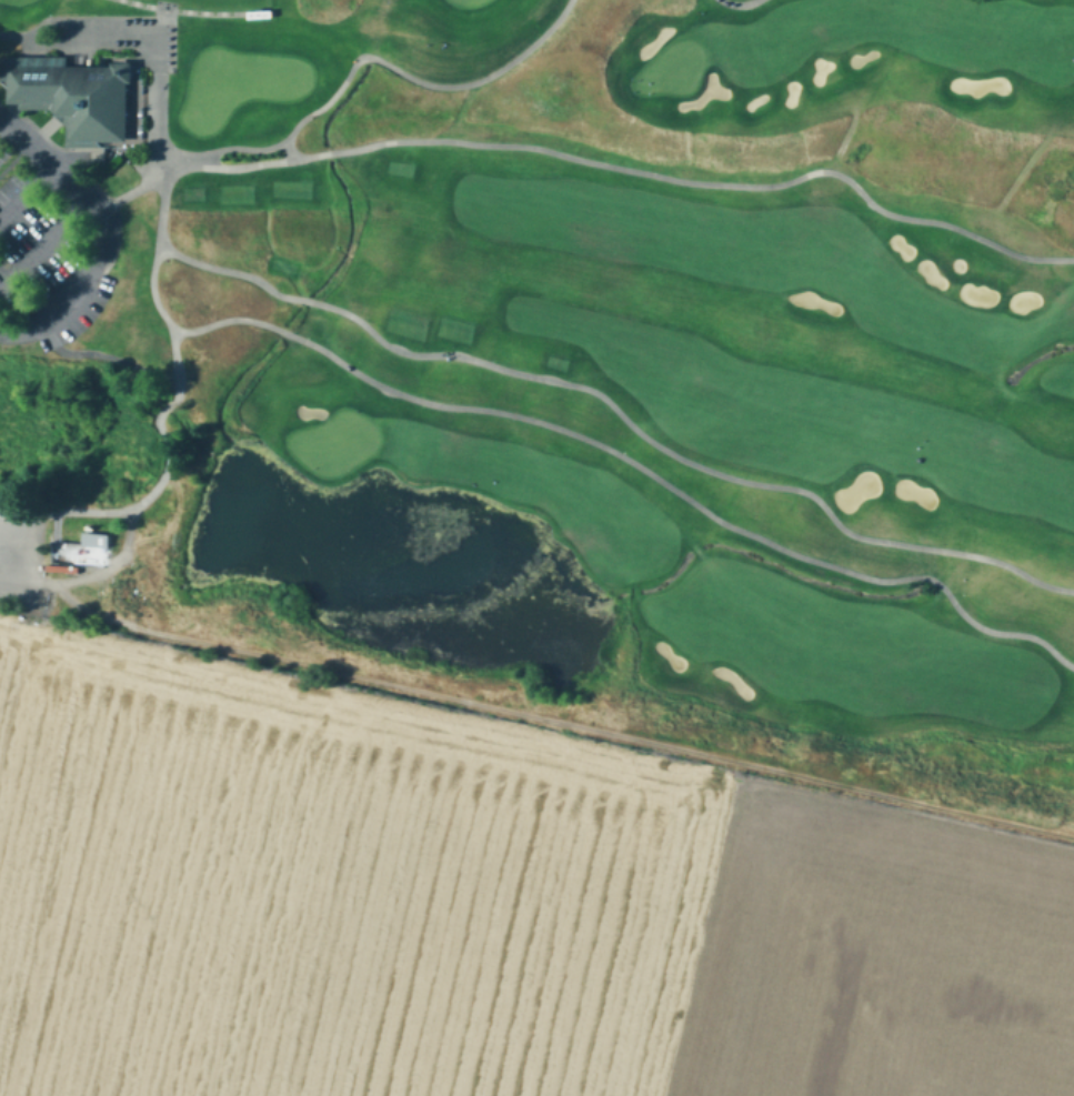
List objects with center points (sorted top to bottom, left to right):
road: (736, 2)
road: (57, 17)
road: (80, 36)
road: (363, 54)
building: (81, 94)
road: (0, 120)
road: (290, 147)
road: (106, 151)
road: (589, 159)
road: (26, 190)
road: (101, 232)
road: (41, 242)
road: (164, 316)
road: (101, 353)
park: (566, 365)
road: (619, 410)
road: (636, 464)
building: (100, 539)
parking lot: (21, 554)
road: (89, 575)
crop: (478, 903)

